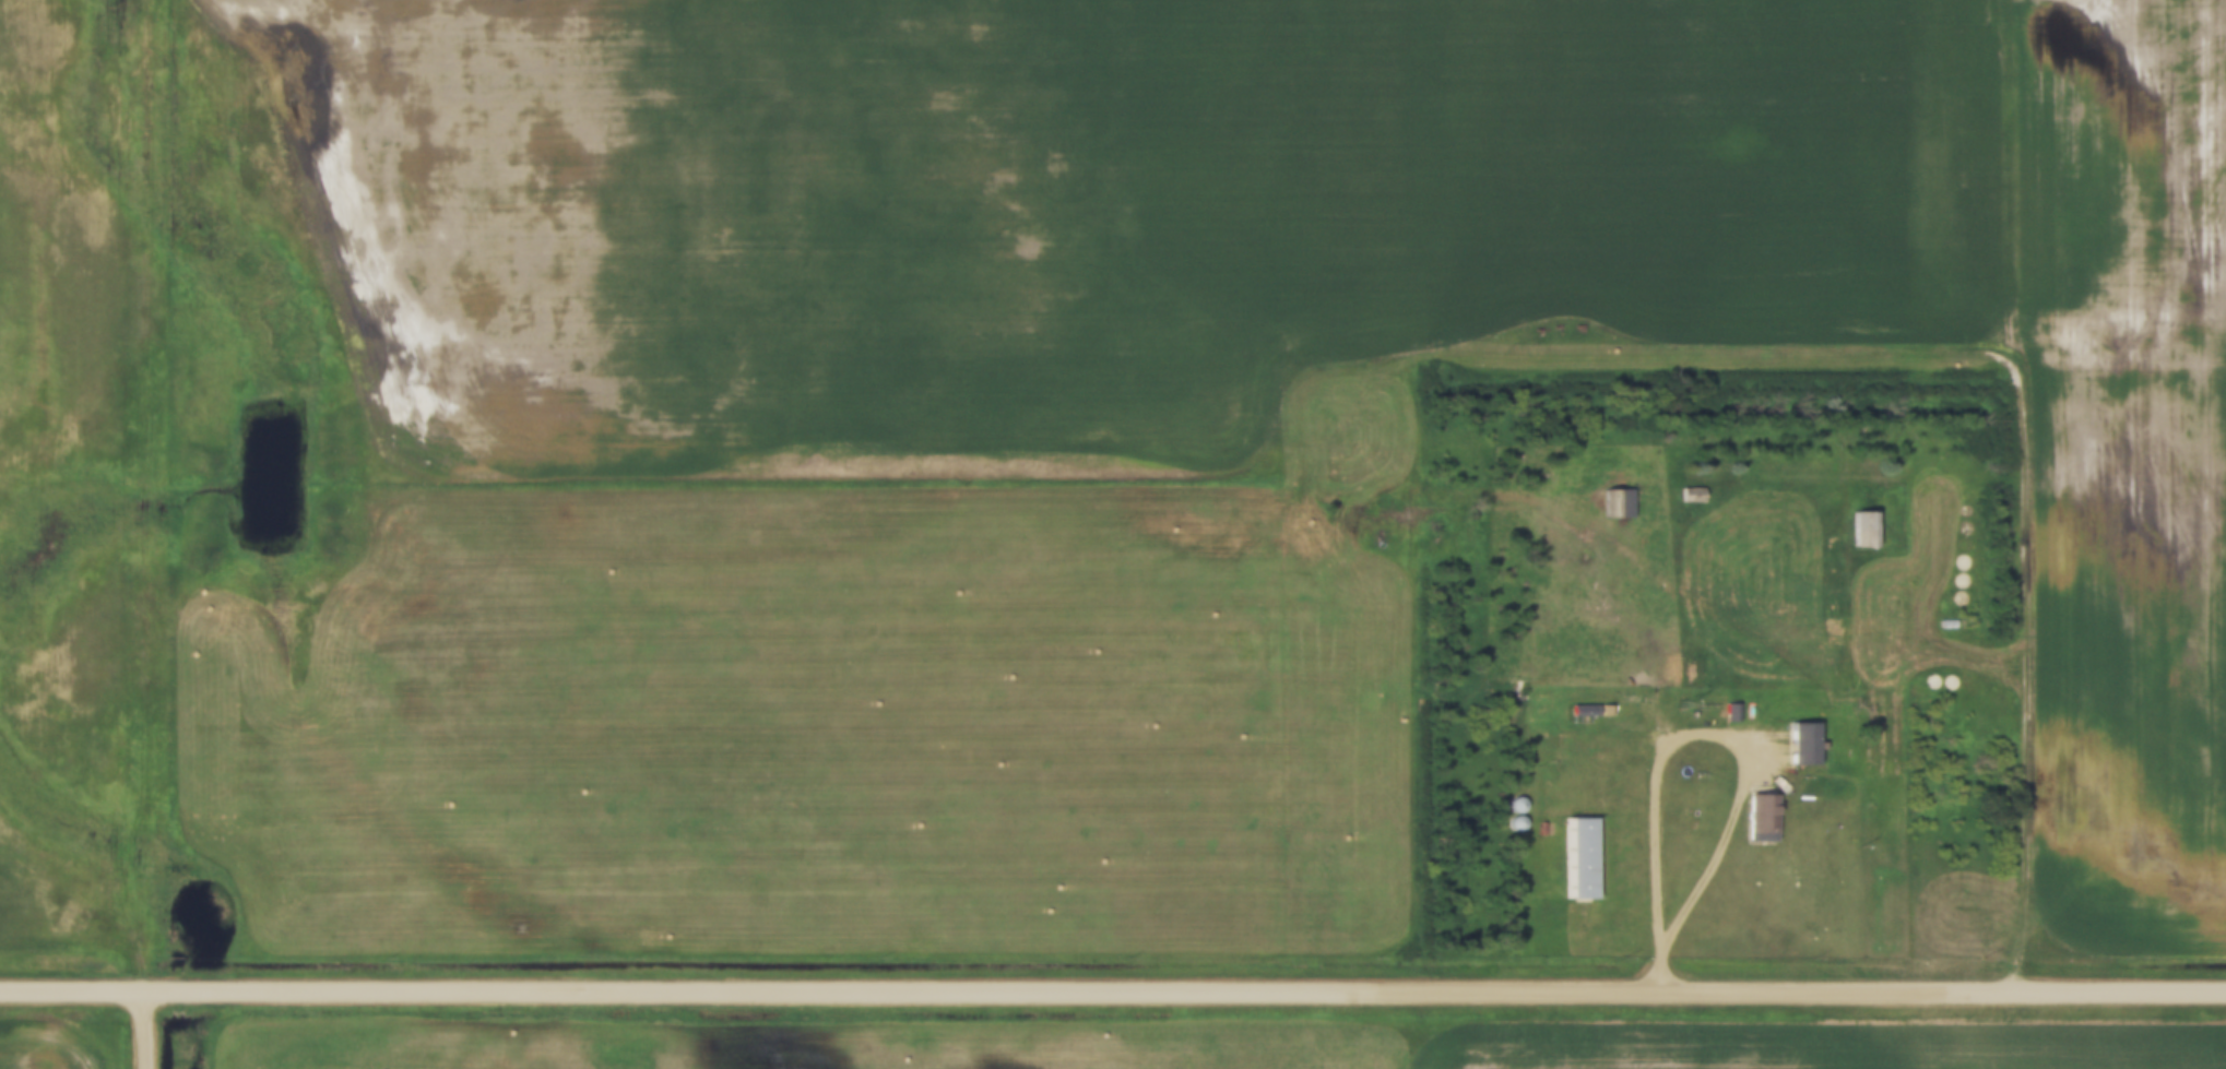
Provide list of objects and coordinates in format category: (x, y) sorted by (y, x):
building: (1698, 491)
road: (140, 496)
road: (2027, 496)
building: (1625, 499)
building: (1872, 526)
road: (1937, 577)
building: (1954, 622)
road: (1743, 627)
building: (1591, 709)
building: (1613, 709)
building: (1740, 709)
building: (1811, 739)
road: (1734, 746)
storage tank: (1813, 795)
building: (1525, 801)
silo: (1525, 801)
building: (1767, 815)
building: (1525, 820)
silo: (1525, 820)
building: (1589, 854)
road: (1112, 994)
road: (144, 1031)

